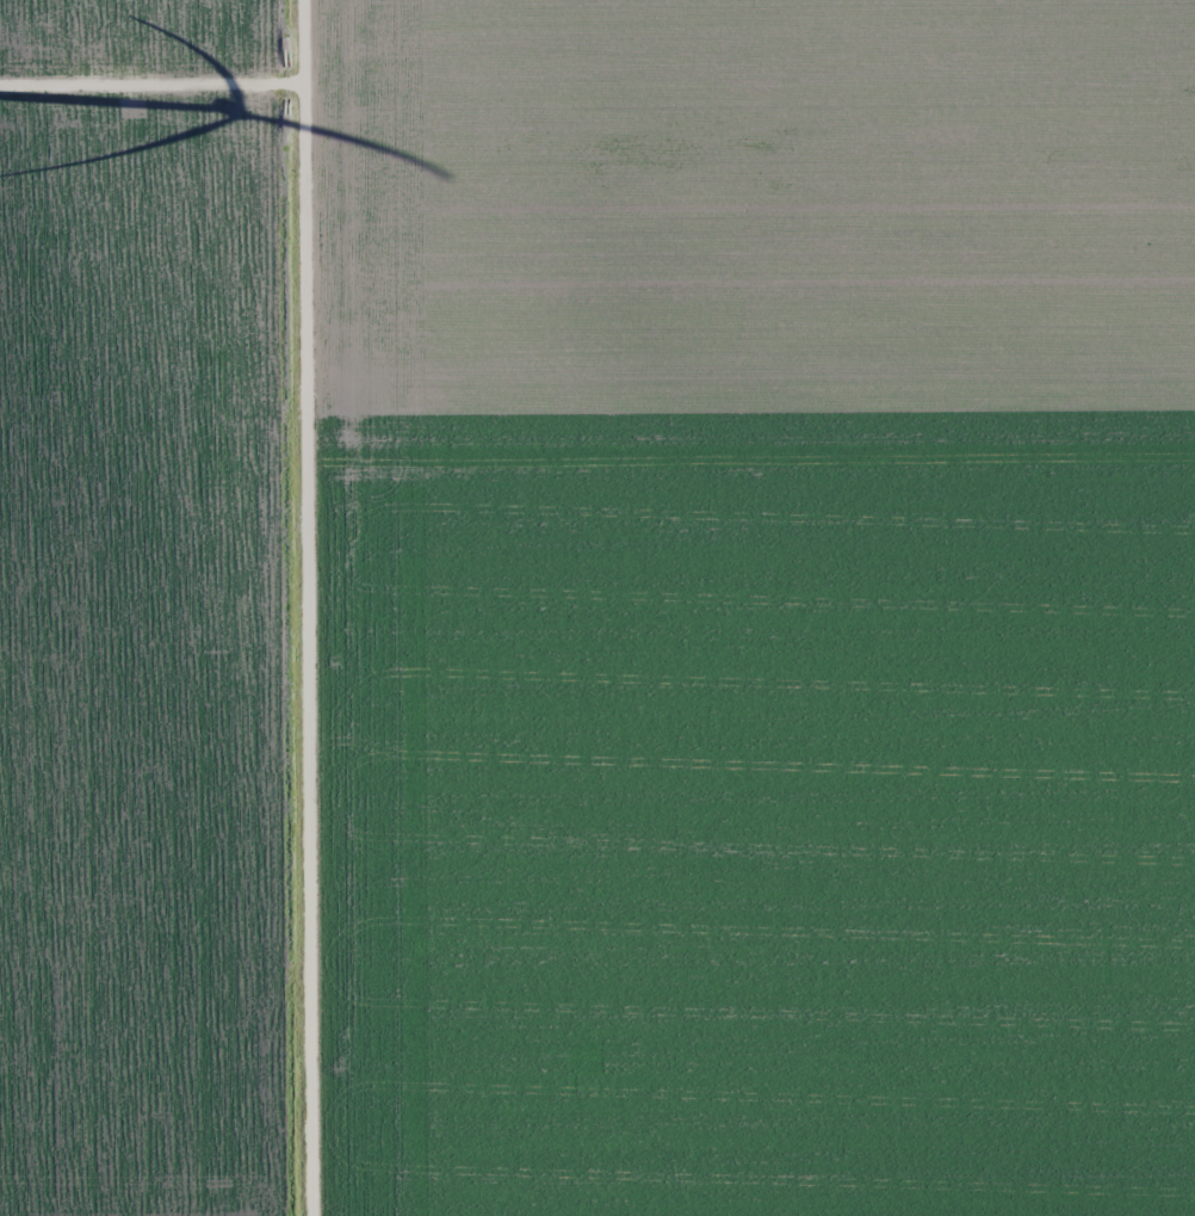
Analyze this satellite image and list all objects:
road: (312, 607)

